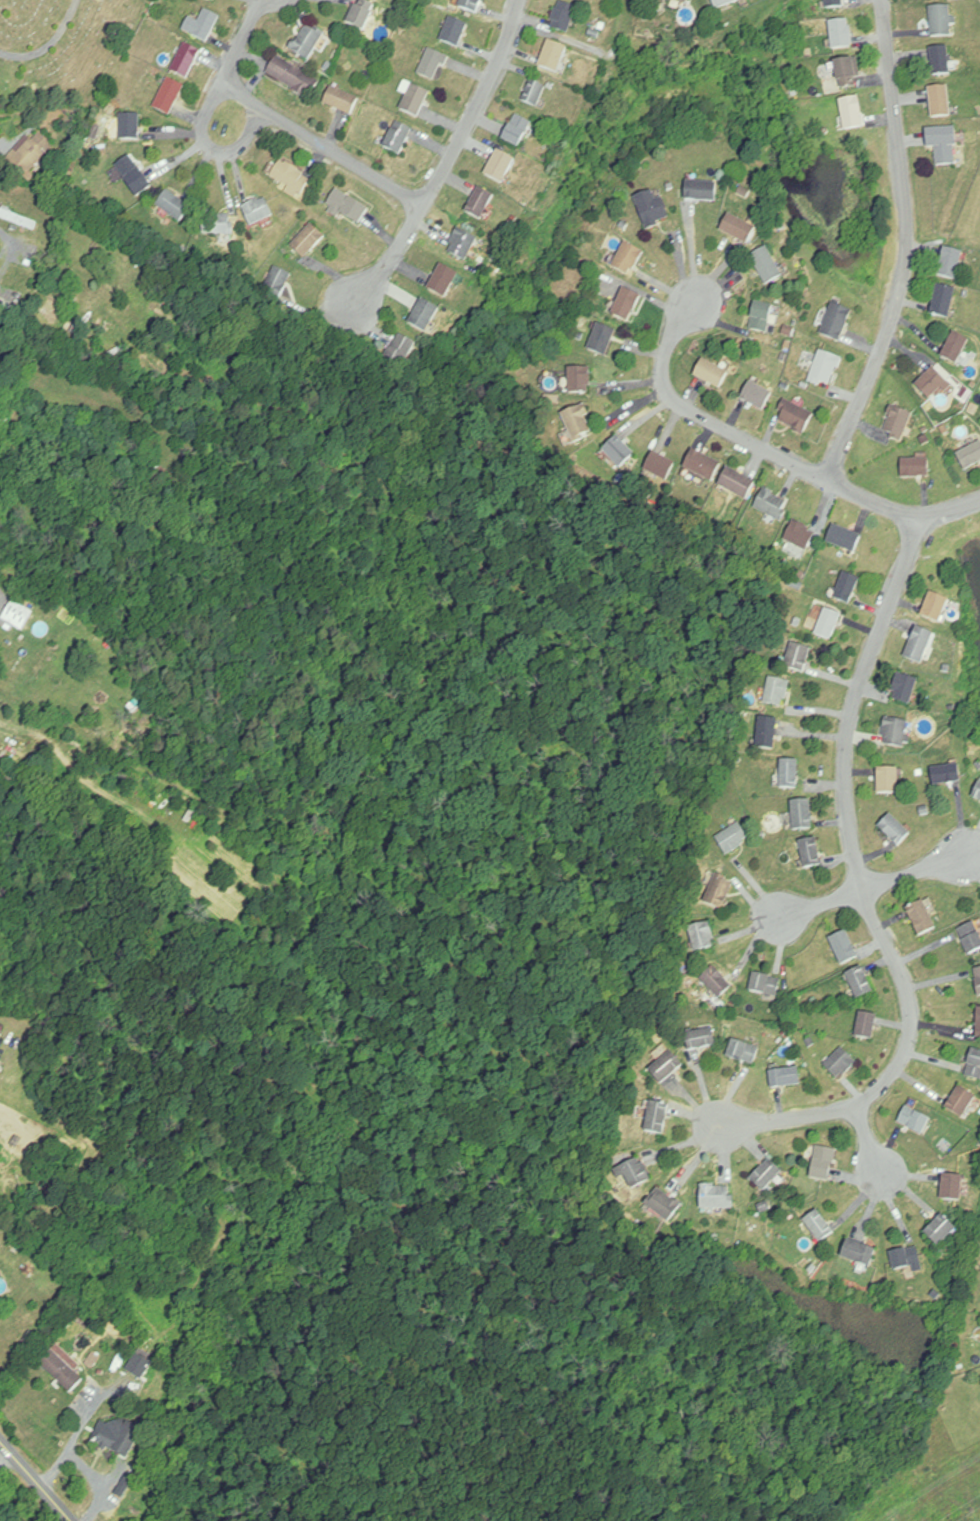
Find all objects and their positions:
building: (679, 1)
building: (723, 3)
building: (834, 4)
building: (470, 6)
building: (360, 15)
building: (563, 18)
building: (941, 21)
building: (201, 26)
building: (453, 33)
building: (841, 34)
building: (307, 42)
road: (49, 44)
park: (62, 51)
building: (553, 58)
building: (185, 61)
building: (941, 61)
building: (431, 65)
building: (846, 74)
building: (292, 78)
building: (534, 94)
building: (168, 97)
road: (213, 98)
building: (414, 101)
building: (940, 101)
building: (340, 102)
building: (852, 114)
building: (130, 127)
building: (516, 131)
building: (397, 139)
road: (322, 143)
building: (944, 144)
building: (31, 154)
road: (452, 155)
building: (499, 167)
building: (133, 176)
building: (289, 179)
building: (700, 191)
building: (479, 203)
building: (173, 207)
building: (347, 208)
building: (652, 208)
building: (257, 212)
building: (18, 219)
building: (216, 224)
building: (738, 229)
building: (307, 242)
building: (462, 245)
road: (906, 246)
road: (689, 249)
building: (951, 264)
building: (766, 266)
building: (442, 281)
building: (276, 285)
building: (944, 301)
building: (627, 305)
building: (423, 316)
building: (761, 317)
building: (836, 322)
building: (602, 340)
building: (955, 348)
building: (399, 350)
building: (825, 369)
building: (711, 374)
building: (579, 381)
building: (932, 384)
building: (757, 397)
building: (795, 417)
building: (577, 423)
building: (897, 424)
road: (773, 452)
building: (619, 453)
building: (970, 457)
building: (702, 466)
building: (659, 467)
building: (915, 468)
building: (737, 484)
building: (772, 504)
building: (799, 536)
building: (844, 538)
building: (847, 589)
building: (935, 608)
building: (17, 615)
building: (828, 625)
building: (919, 646)
building: (798, 658)
building: (904, 689)
building: (777, 692)
building: (767, 732)
building: (895, 732)
building: (790, 773)
building: (946, 774)
building: (888, 780)
building: (977, 791)
building: (802, 814)
building: (894, 829)
building: (733, 838)
building: (811, 852)
road: (873, 887)
road: (864, 888)
building: (720, 892)
building: (921, 917)
building: (702, 936)
building: (971, 936)
building: (842, 946)
building: (978, 978)
building: (716, 981)
building: (860, 981)
building: (764, 984)
building: (978, 1021)
building: (866, 1025)
building: (701, 1038)
building: (743, 1051)
building: (840, 1063)
building: (974, 1064)
building: (666, 1066)
building: (785, 1077)
building: (961, 1101)
building: (657, 1117)
building: (914, 1120)
road: (869, 1144)
building: (823, 1163)
building: (635, 1171)
building: (766, 1174)
building: (952, 1187)
building: (716, 1196)
building: (663, 1204)
building: (818, 1225)
building: (940, 1230)
building: (858, 1252)
building: (907, 1258)
building: (812, 1268)
building: (61, 1366)
road: (80, 1415)
building: (116, 1438)
road: (4, 1458)
road: (79, 1468)
road: (36, 1480)

